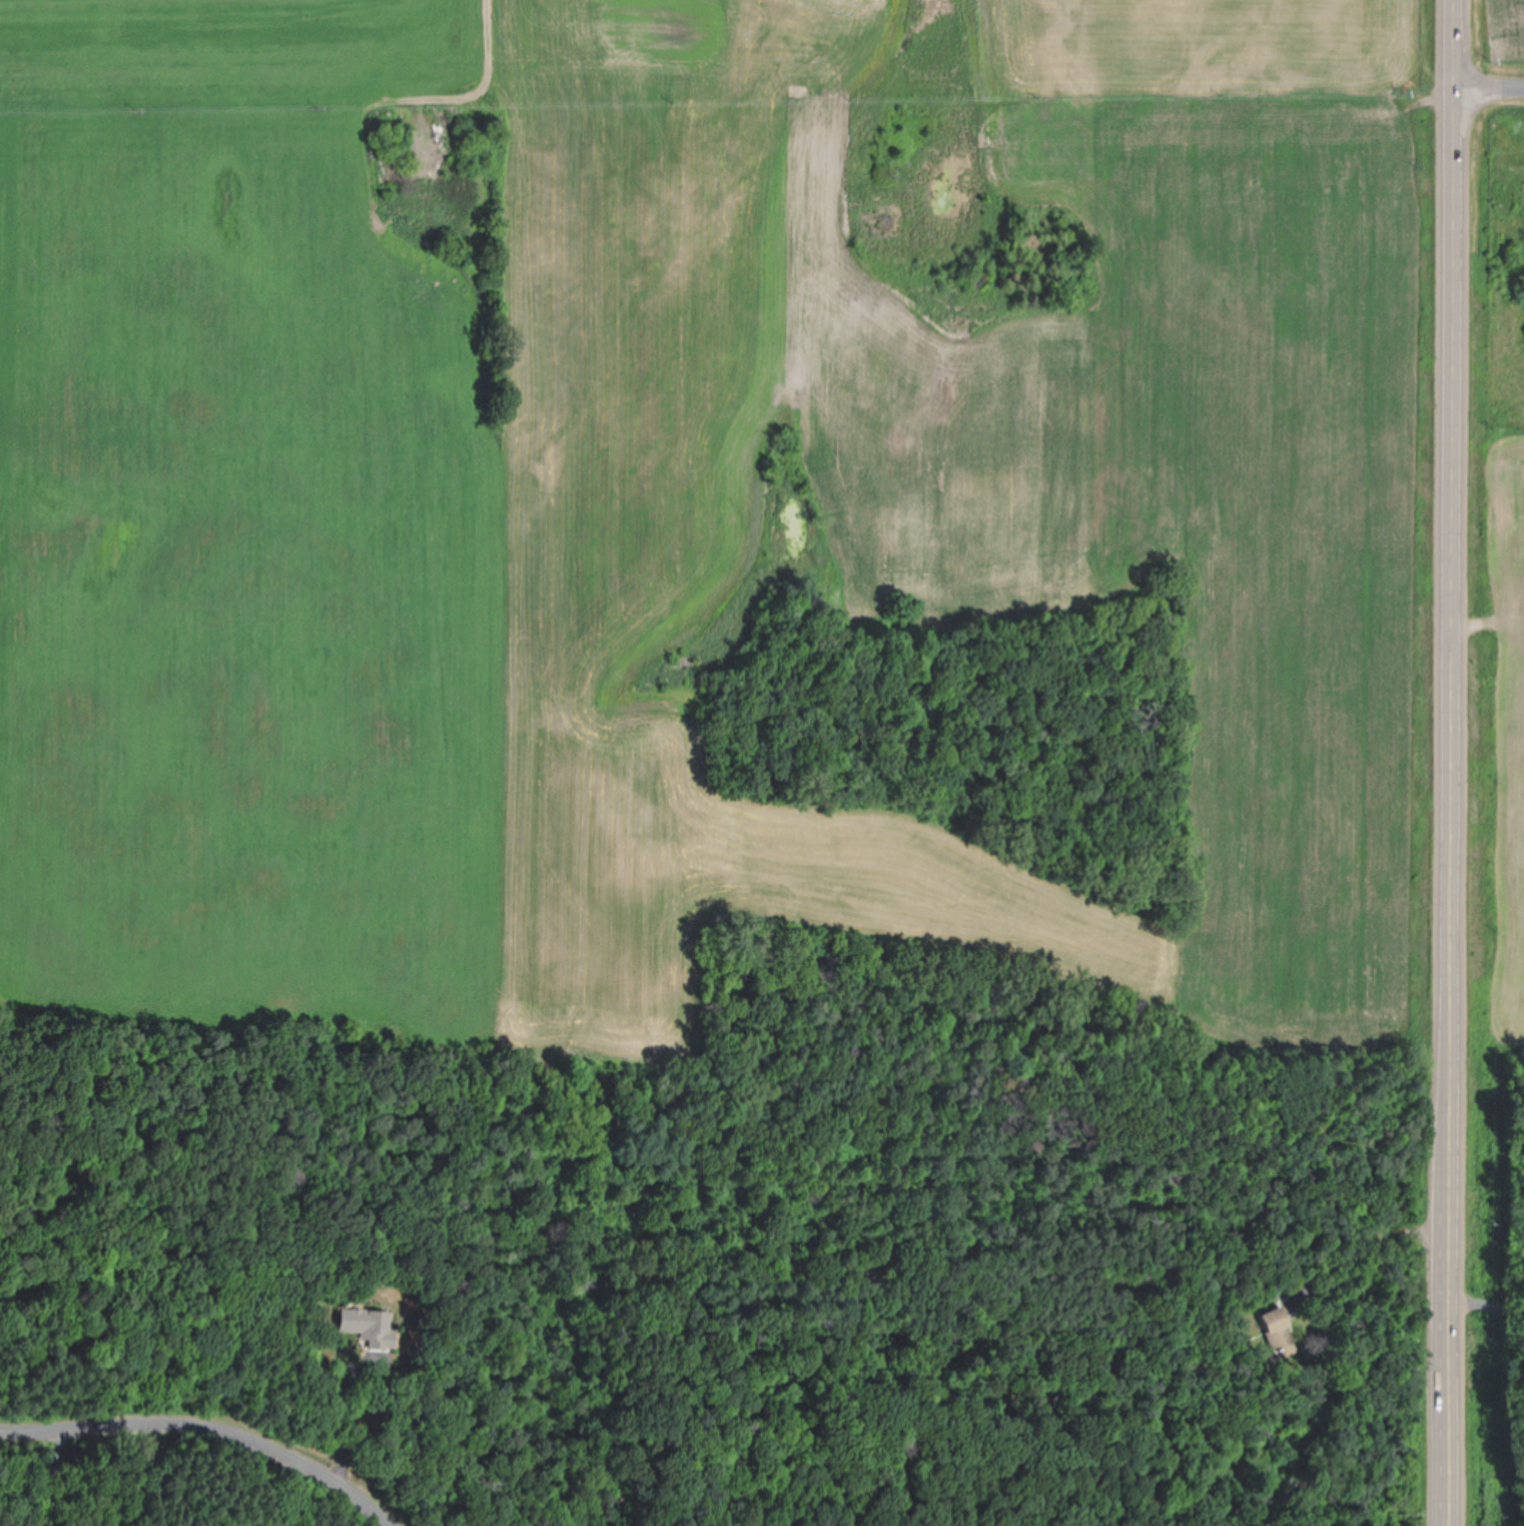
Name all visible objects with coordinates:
road: (1491, 83)
road: (1450, 762)
building: (372, 1327)
building: (1274, 1328)
road: (216, 1424)

